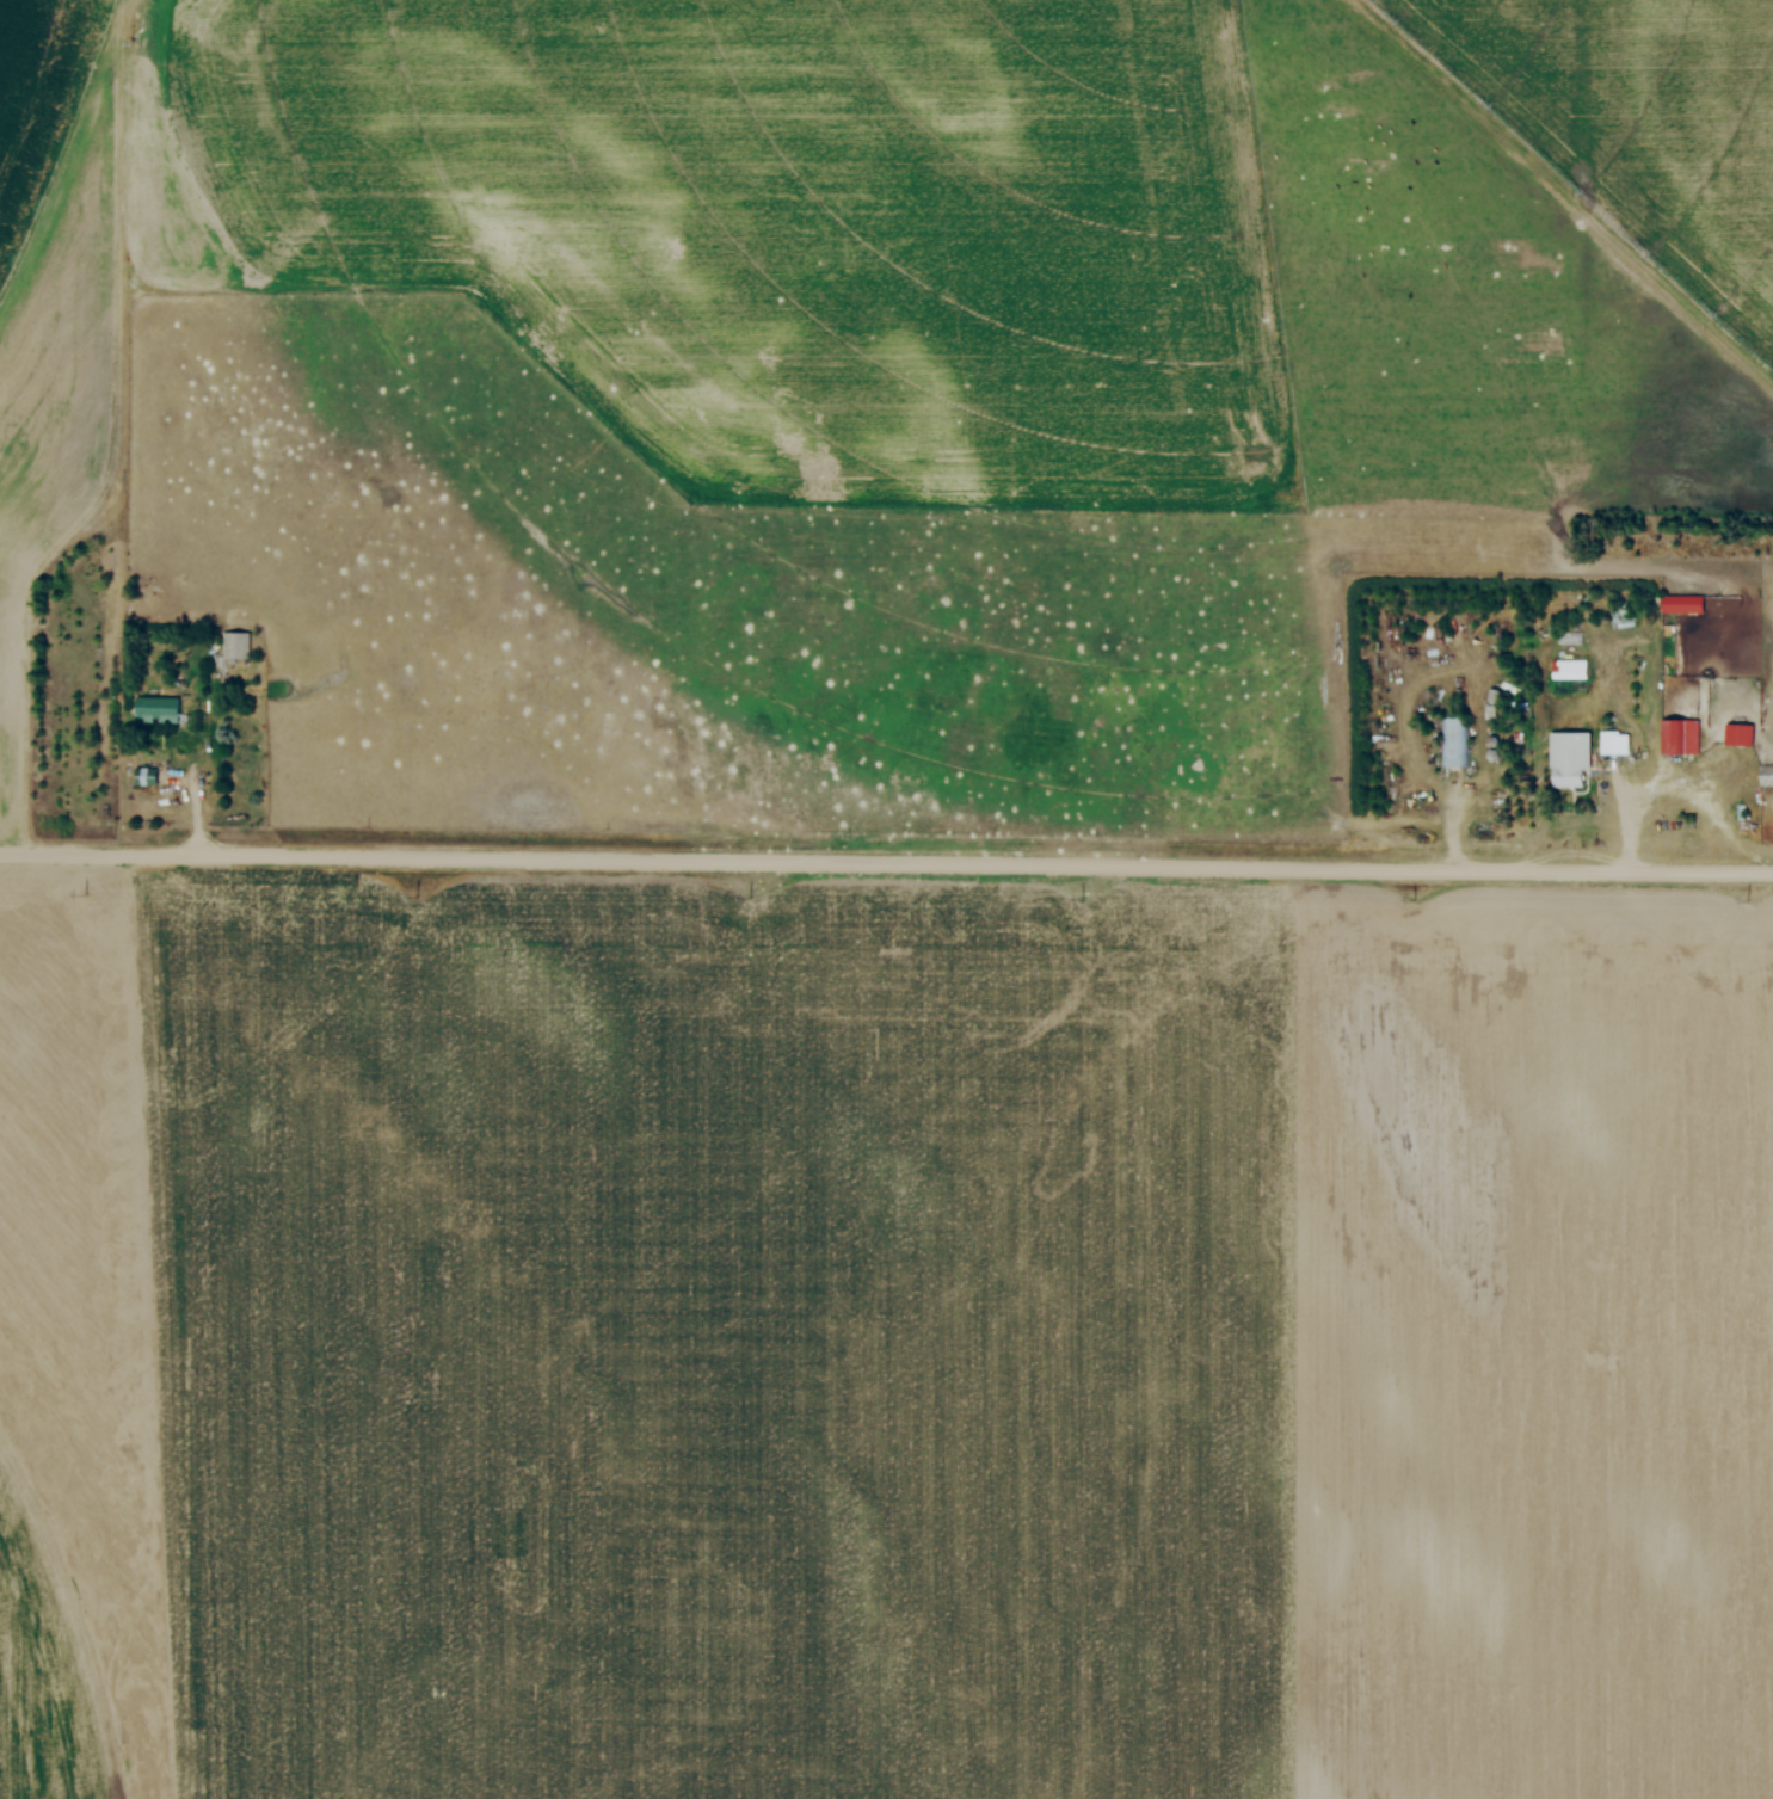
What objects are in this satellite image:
crop: (38, 94)
crop: (1633, 125)
crop: (789, 227)
building: (1682, 603)
building: (1566, 636)
building: (1655, 642)
building: (238, 647)
building: (1568, 669)
building: (1494, 696)
building: (154, 710)
building: (1737, 734)
building: (1680, 738)
building: (1613, 743)
building: (1451, 744)
building: (1570, 759)
building: (144, 775)
building: (1766, 776)
road: (195, 809)
road: (1626, 812)
road: (886, 863)
crop: (884, 1343)

